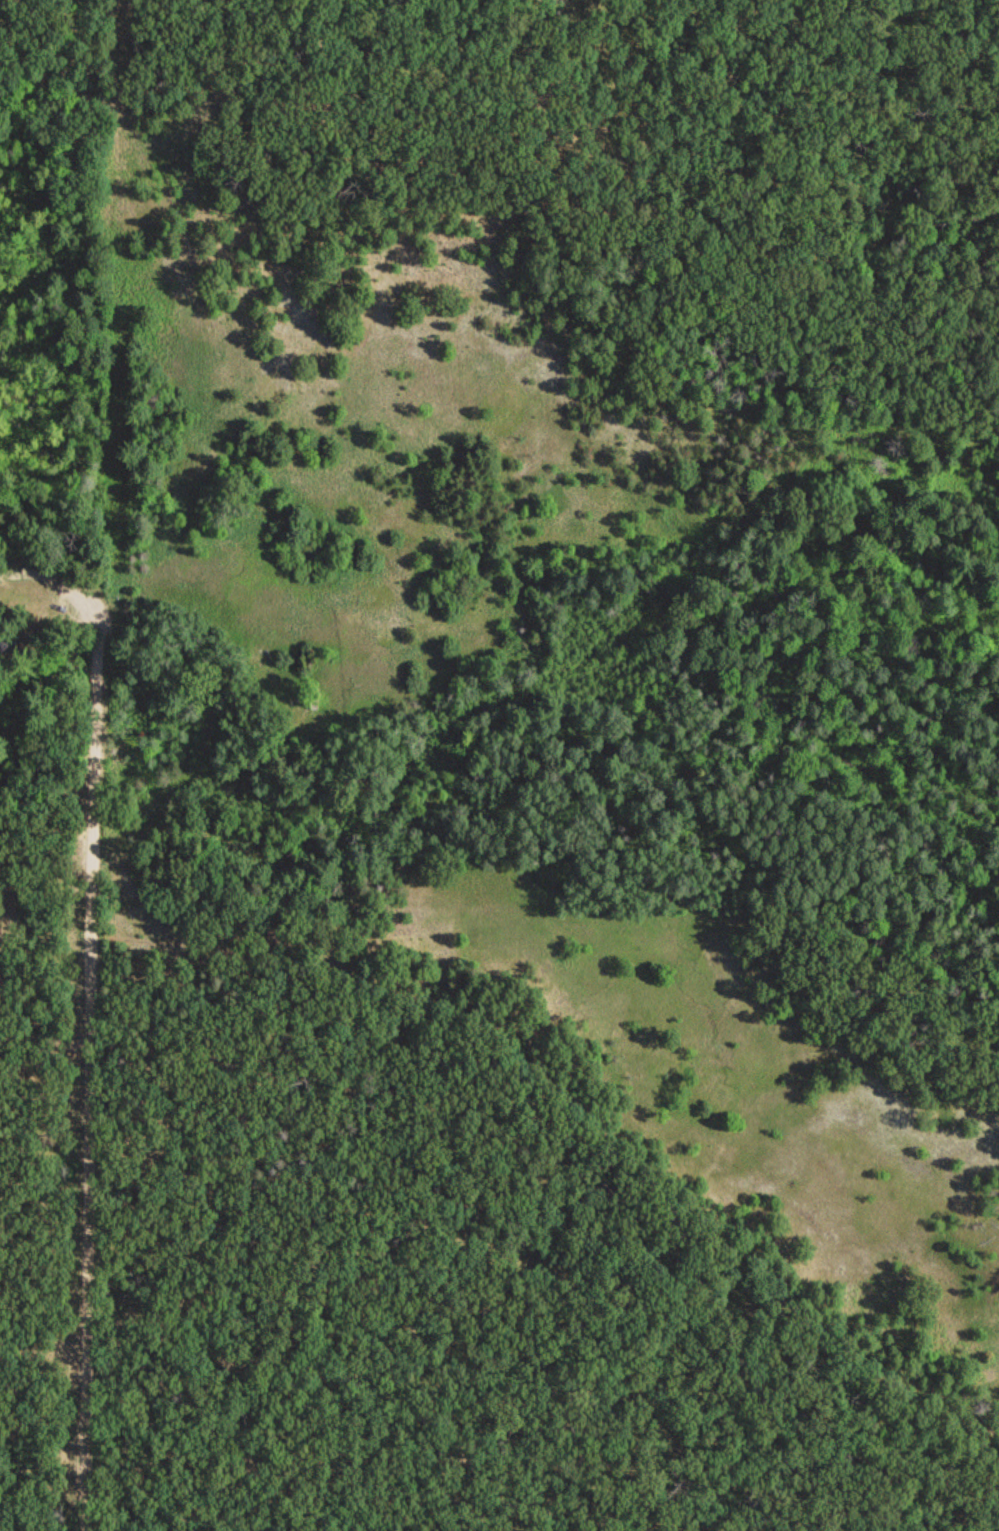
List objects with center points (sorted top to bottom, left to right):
building: (4, 648)
road: (80, 1149)
road: (40, 1163)

